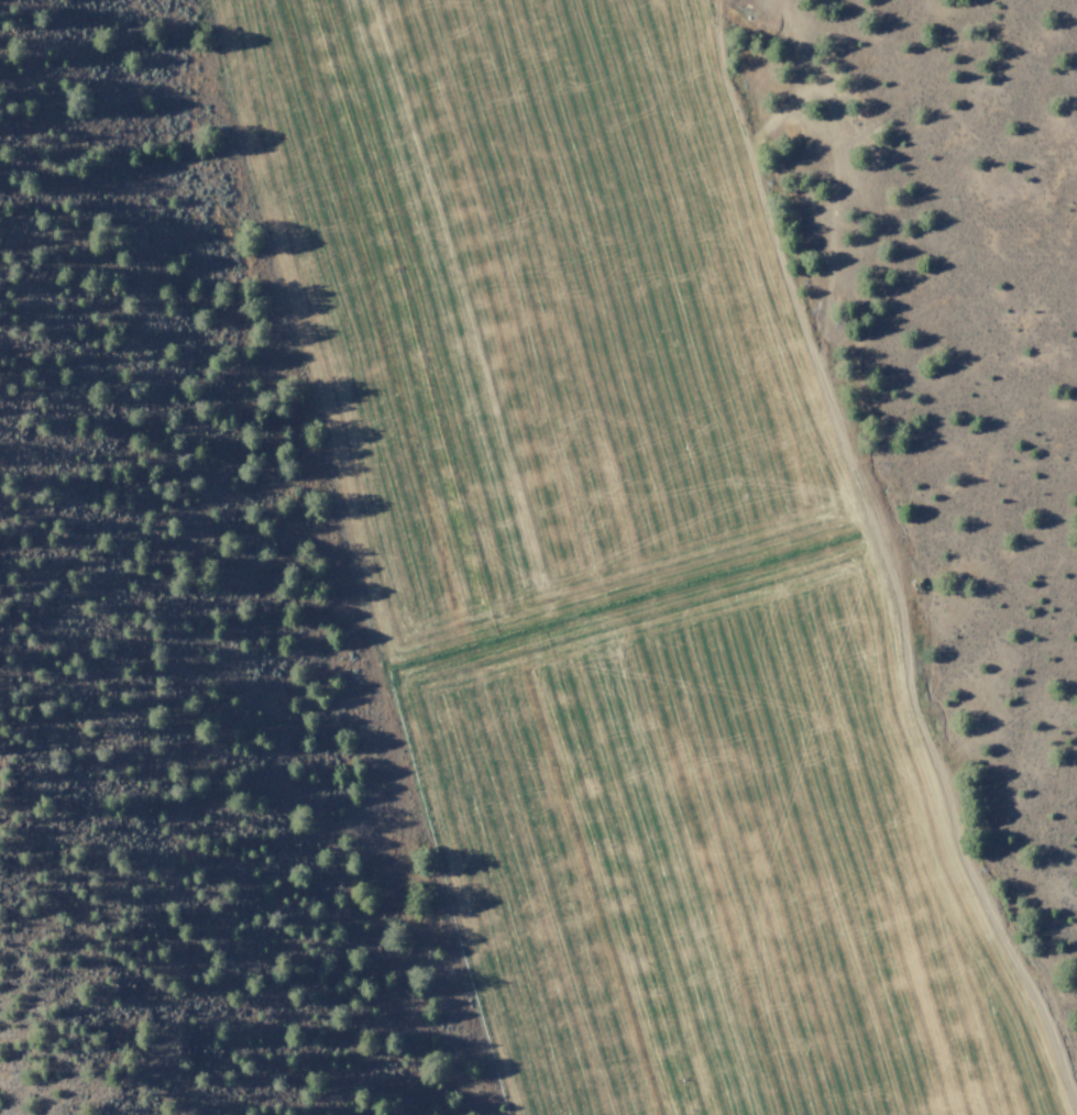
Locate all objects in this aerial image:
road: (886, 557)

